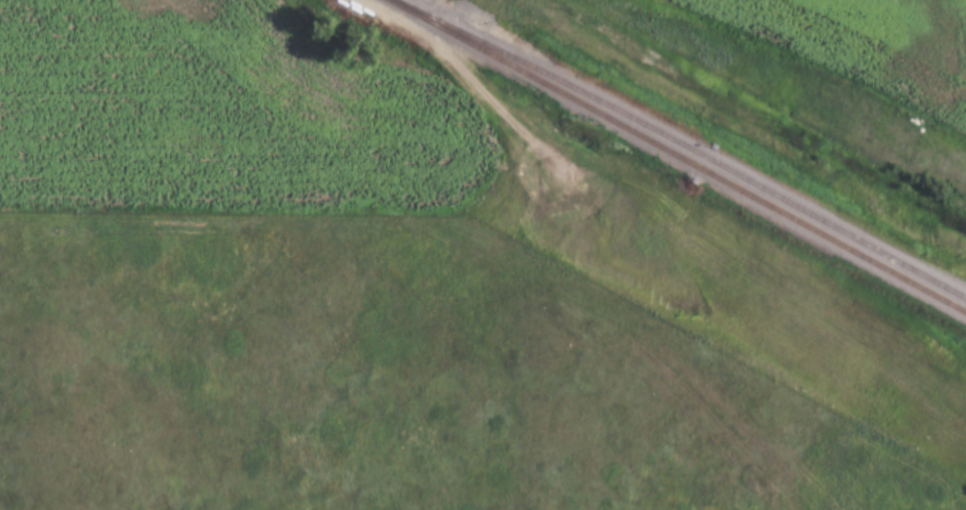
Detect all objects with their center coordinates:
road: (436, 46)
railway: (682, 145)
railway: (677, 156)

